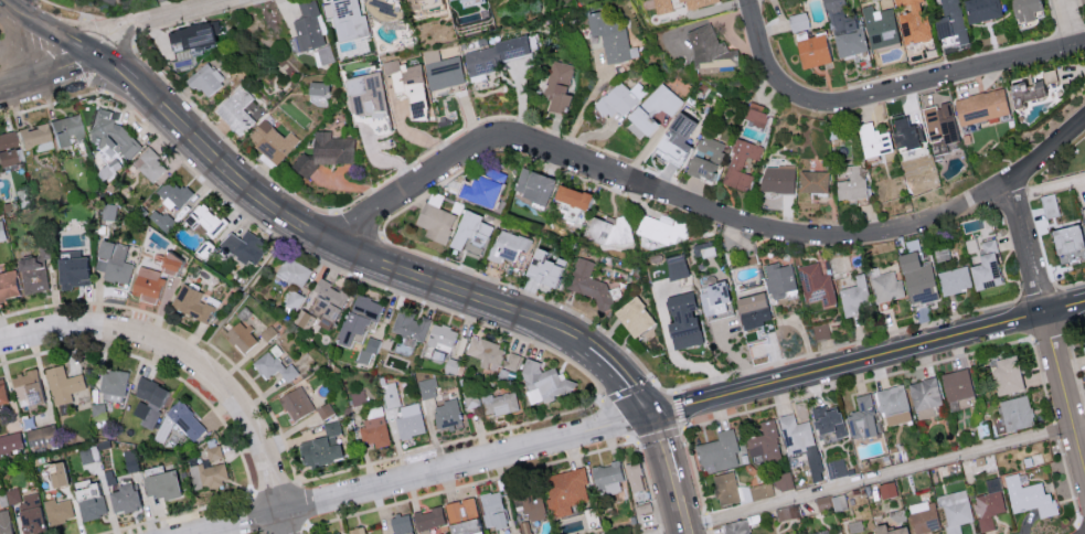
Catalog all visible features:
building: (118, 0)
building: (677, 0)
building: (465, 2)
building: (696, 2)
building: (660, 6)
building: (981, 9)
building: (1024, 9)
road: (157, 18)
building: (348, 19)
building: (951, 19)
building: (797, 20)
building: (913, 20)
road: (1071, 23)
building: (880, 25)
building: (843, 29)
road: (47, 30)
road: (4, 31)
building: (189, 35)
building: (610, 35)
building: (709, 47)
building: (811, 51)
building: (442, 68)
road: (49, 77)
building: (204, 78)
building: (409, 85)
building: (559, 86)
building: (317, 87)
building: (1031, 87)
road: (886, 90)
building: (366, 93)
building: (620, 98)
road: (588, 104)
building: (980, 106)
building: (655, 107)
building: (236, 110)
building: (756, 113)
building: (940, 121)
building: (63, 130)
building: (906, 131)
building: (113, 133)
building: (33, 138)
building: (676, 138)
building: (873, 139)
building: (272, 140)
road: (478, 143)
building: (6, 146)
building: (326, 151)
building: (706, 158)
building: (149, 163)
building: (741, 164)
building: (777, 179)
building: (813, 181)
building: (852, 183)
building: (531, 184)
building: (480, 190)
road: (1051, 191)
building: (173, 192)
building: (570, 195)
building: (1049, 205)
building: (1084, 210)
building: (161, 218)
building: (204, 218)
building: (435, 222)
building: (1084, 226)
building: (661, 228)
building: (610, 229)
building: (1, 232)
building: (471, 232)
road: (877, 234)
building: (1067, 243)
road: (332, 244)
building: (509, 245)
building: (243, 246)
building: (114, 260)
building: (676, 266)
building: (985, 266)
building: (544, 267)
building: (71, 269)
building: (292, 270)
building: (31, 274)
building: (917, 278)
building: (779, 279)
building: (955, 279)
building: (587, 280)
building: (146, 281)
building: (8, 284)
building: (817, 284)
building: (886, 287)
road: (243, 291)
building: (855, 297)
building: (292, 299)
building: (325, 301)
building: (192, 303)
building: (754, 310)
road: (1065, 311)
building: (635, 316)
building: (357, 317)
building: (302, 318)
building: (682, 320)
road: (1047, 322)
building: (409, 324)
building: (268, 332)
building: (240, 335)
building: (1084, 337)
building: (439, 339)
building: (365, 350)
building: (1084, 350)
building: (486, 352)
road: (184, 356)
building: (511, 360)
building: (273, 366)
road: (849, 366)
building: (1004, 374)
building: (113, 381)
building: (543, 381)
building: (62, 384)
building: (955, 384)
building: (26, 387)
road: (634, 389)
building: (2, 393)
building: (358, 396)
building: (924, 396)
building: (147, 399)
building: (296, 402)
building: (494, 402)
building: (893, 405)
building: (1017, 412)
building: (445, 414)
building: (381, 417)
traffic signals: (651, 417)
building: (861, 417)
building: (184, 419)
building: (828, 419)
building: (409, 420)
building: (163, 428)
building: (795, 434)
building: (10, 441)
building: (765, 441)
road: (666, 448)
building: (318, 450)
building: (213, 451)
building: (719, 451)
building: (836, 468)
building: (53, 473)
building: (206, 473)
road: (428, 474)
building: (632, 477)
building: (606, 478)
road: (879, 478)
building: (784, 480)
building: (160, 483)
building: (725, 488)
building: (887, 489)
building: (563, 490)
building: (762, 490)
building: (744, 492)
building: (12, 495)
building: (1029, 495)
building: (121, 498)
building: (831, 502)
building: (989, 504)
building: (531, 505)
building: (91, 506)
road: (680, 508)
building: (57, 509)
building: (459, 509)
building: (491, 509)
building: (955, 510)
building: (29, 514)
building: (924, 516)
building: (428, 517)
building: (4, 522)
road: (283, 524)
building: (401, 524)
building: (464, 526)
building: (736, 526)
building: (853, 526)
building: (524, 527)
building: (358, 530)
building: (889, 530)
building: (337, 533)

